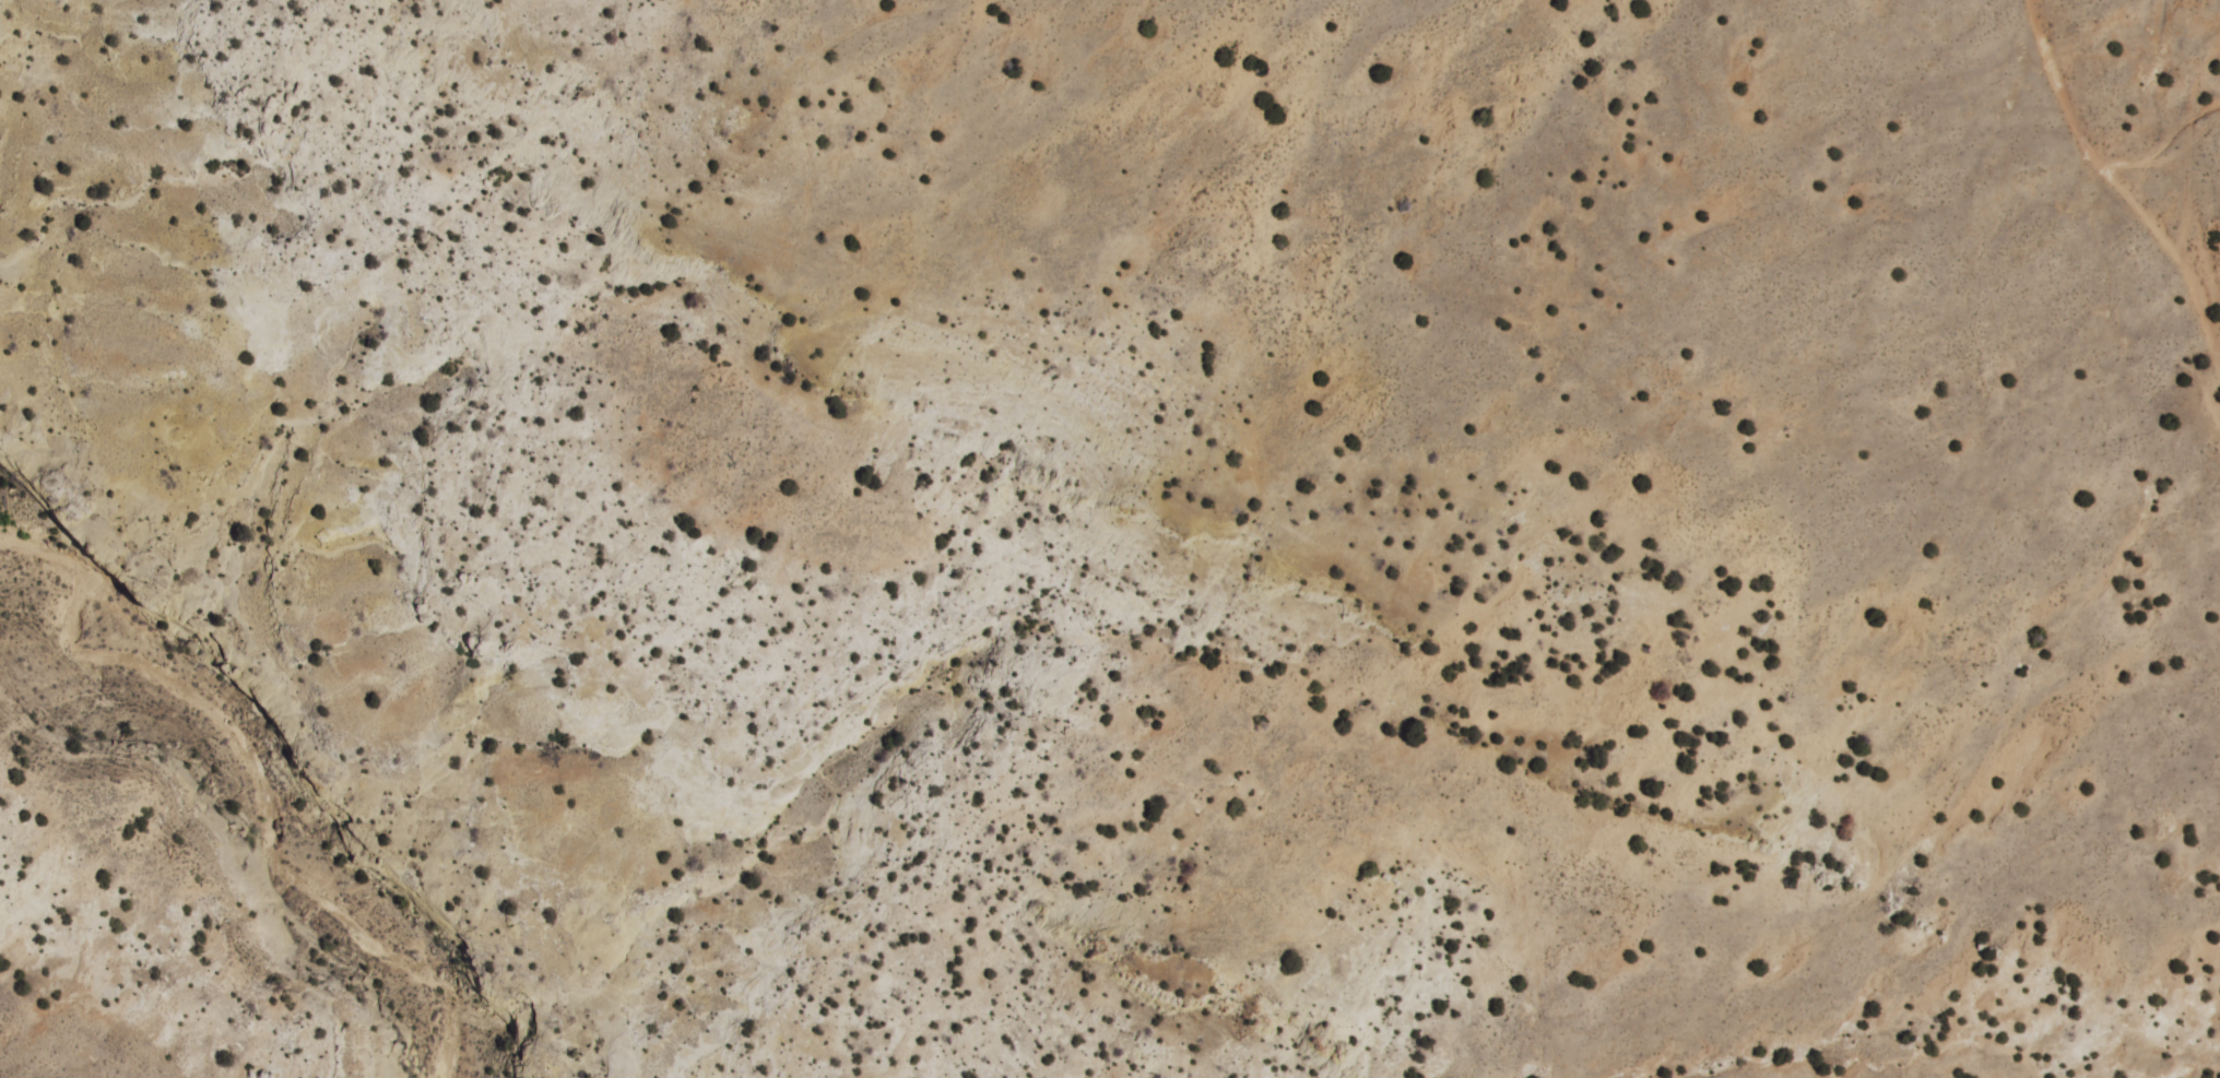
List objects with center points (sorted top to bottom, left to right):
road: (2136, 165)

